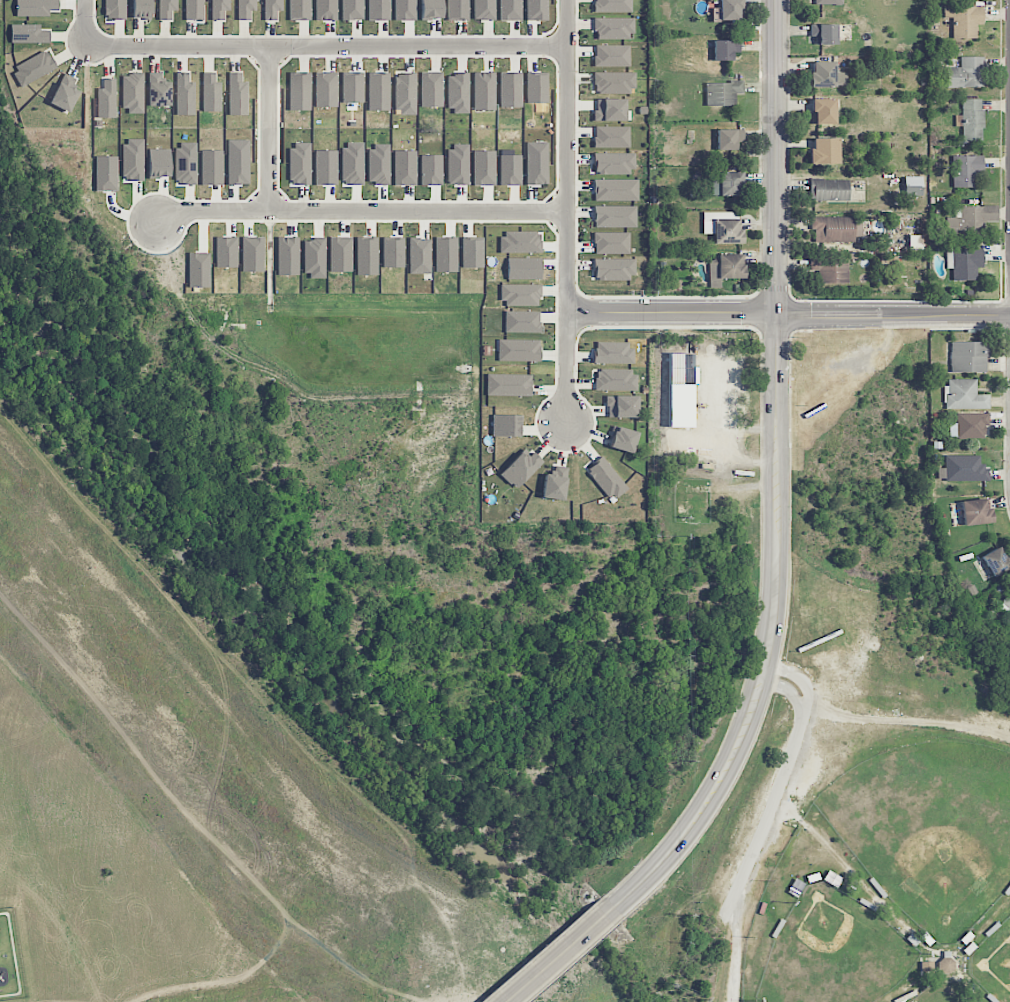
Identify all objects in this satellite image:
building: (828, 2)
building: (612, 6)
building: (35, 7)
building: (219, 8)
building: (431, 8)
building: (115, 9)
building: (141, 9)
building: (167, 9)
building: (194, 9)
building: (245, 9)
building: (272, 9)
building: (299, 9)
building: (325, 9)
building: (351, 9)
building: (510, 10)
building: (537, 10)
building: (730, 10)
building: (965, 20)
road: (84, 22)
building: (613, 28)
building: (29, 34)
building: (824, 34)
road: (325, 45)
building: (725, 49)
building: (612, 56)
building: (34, 68)
building: (966, 73)
building: (826, 75)
building: (614, 82)
building: (353, 85)
building: (158, 90)
building: (326, 90)
building: (299, 91)
building: (132, 92)
building: (65, 93)
building: (211, 93)
building: (723, 93)
building: (184, 94)
building: (405, 94)
building: (238, 95)
building: (106, 99)
building: (610, 109)
building: (823, 111)
road: (268, 127)
building: (611, 137)
building: (729, 138)
building: (824, 151)
road: (777, 157)
building: (536, 162)
building: (614, 163)
building: (404, 167)
building: (483, 167)
building: (431, 170)
building: (966, 170)
building: (106, 173)
building: (726, 184)
building: (615, 190)
building: (829, 190)
road: (364, 209)
road: (566, 212)
building: (615, 216)
building: (971, 221)
building: (836, 229)
building: (725, 231)
building: (611, 243)
building: (472, 253)
building: (445, 254)
building: (419, 255)
building: (966, 263)
building: (724, 268)
building: (613, 269)
building: (830, 270)
building: (521, 295)
road: (671, 312)
road: (893, 316)
building: (522, 322)
building: (518, 350)
building: (612, 353)
building: (969, 357)
building: (615, 379)
building: (508, 385)
building: (964, 395)
building: (622, 406)
building: (969, 426)
road: (754, 429)
road: (734, 435)
building: (623, 439)
building: (520, 468)
building: (965, 469)
building: (606, 479)
building: (555, 483)
building: (975, 512)
building: (996, 561)
building: (1006, 602)
road: (769, 640)
road: (799, 677)
road: (788, 688)
road: (761, 827)
road: (557, 958)
building: (946, 965)
road: (735, 972)

